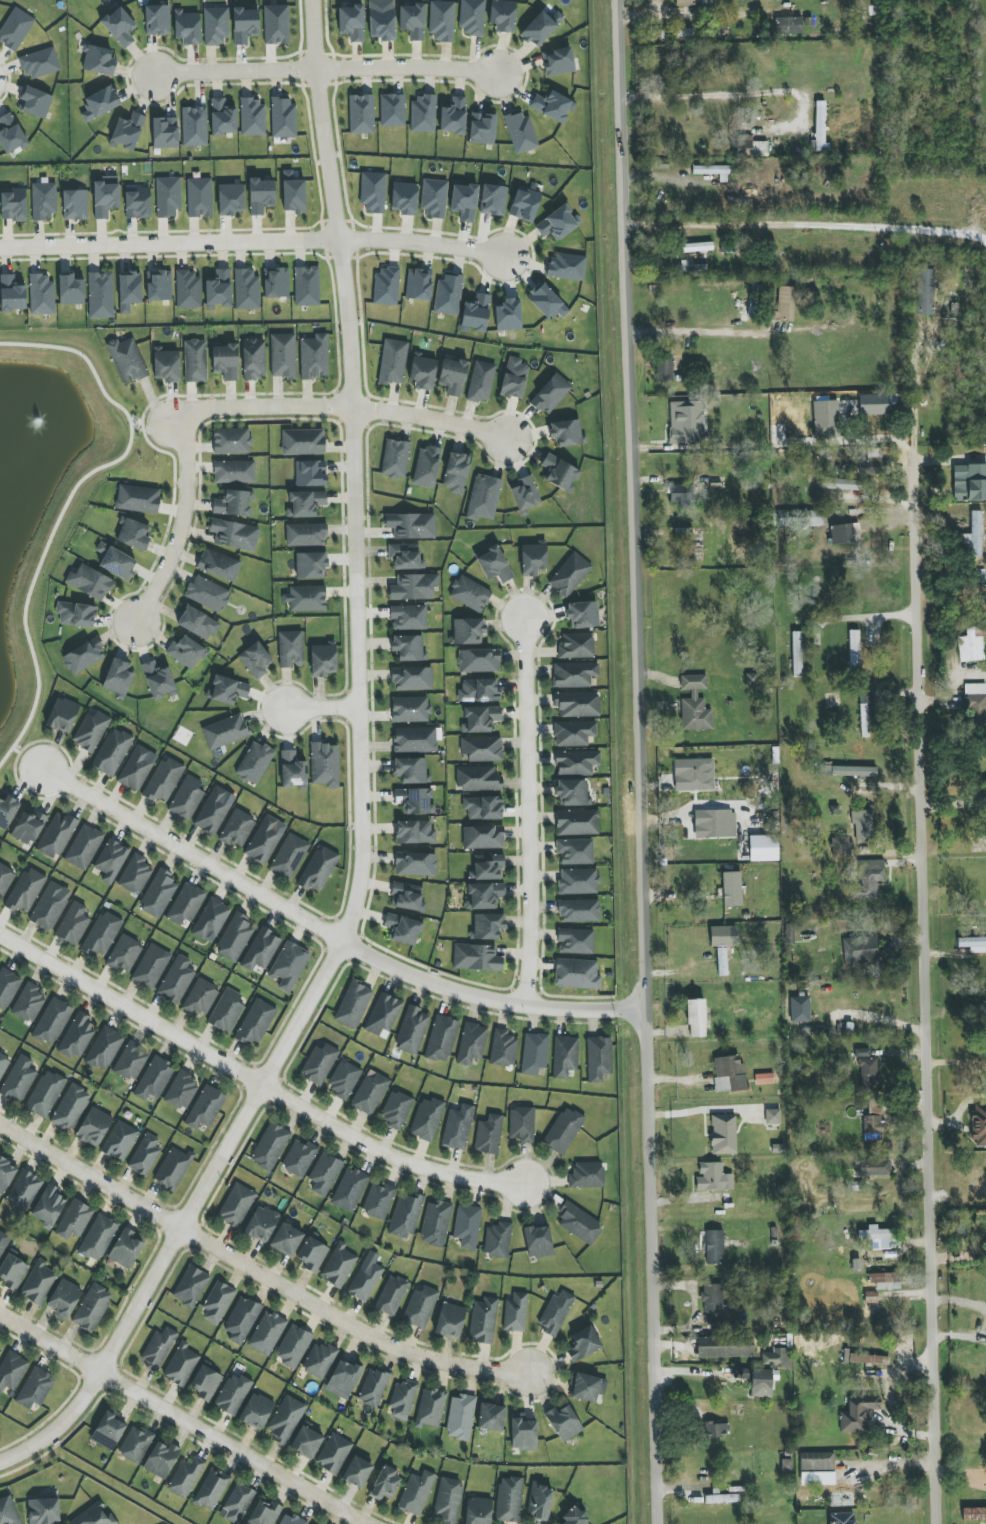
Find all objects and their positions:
building: (693, 2)
building: (502, 16)
road: (663, 16)
building: (472, 17)
building: (157, 20)
building: (412, 21)
building: (442, 21)
building: (351, 22)
building: (788, 23)
building: (276, 24)
building: (381, 24)
building: (244, 25)
building: (119, 26)
building: (215, 26)
building: (187, 27)
building: (15, 29)
building: (538, 29)
building: (683, 33)
building: (98, 61)
building: (558, 61)
building: (40, 63)
road: (330, 70)
road: (742, 94)
building: (35, 102)
building: (100, 103)
building: (552, 106)
building: (392, 110)
building: (361, 114)
building: (423, 114)
building: (252, 116)
building: (453, 116)
building: (283, 117)
building: (222, 118)
building: (194, 126)
building: (819, 128)
building: (482, 129)
building: (127, 132)
building: (165, 132)
building: (520, 132)
building: (10, 134)
building: (751, 147)
building: (714, 171)
building: (373, 192)
building: (293, 193)
building: (260, 195)
building: (105, 196)
building: (168, 196)
building: (199, 197)
building: (404, 198)
building: (434, 198)
building: (230, 199)
building: (43, 200)
building: (493, 200)
building: (137, 202)
building: (463, 202)
building: (525, 204)
building: (75, 205)
building: (13, 206)
building: (558, 223)
road: (808, 226)
road: (253, 242)
building: (697, 247)
building: (689, 266)
building: (565, 267)
building: (276, 283)
building: (418, 284)
building: (159, 285)
building: (306, 286)
building: (385, 287)
building: (188, 289)
building: (246, 289)
building: (70, 290)
building: (218, 290)
building: (129, 291)
building: (925, 291)
building: (11, 294)
building: (41, 294)
building: (448, 294)
building: (100, 295)
building: (546, 302)
building: (784, 304)
building: (475, 314)
building: (508, 315)
road: (694, 332)
building: (283, 356)
building: (314, 357)
building: (253, 359)
building: (127, 360)
building: (195, 361)
building: (225, 361)
building: (393, 362)
building: (166, 365)
building: (664, 369)
building: (422, 373)
building: (452, 376)
building: (514, 378)
building: (481, 382)
road: (913, 388)
building: (550, 394)
building: (877, 404)
road: (348, 409)
building: (825, 419)
building: (686, 422)
building: (566, 432)
building: (231, 441)
building: (302, 442)
building: (395, 458)
building: (873, 466)
building: (426, 467)
building: (234, 471)
building: (456, 472)
building: (310, 473)
building: (559, 473)
building: (969, 483)
building: (847, 484)
building: (679, 494)
building: (524, 495)
building: (483, 497)
building: (137, 499)
road: (66, 502)
building: (233, 503)
building: (305, 504)
building: (411, 525)
road: (180, 528)
building: (133, 534)
building: (234, 534)
building: (845, 534)
building: (974, 534)
building: (306, 535)
building: (405, 557)
building: (533, 559)
building: (116, 562)
building: (494, 564)
building: (218, 565)
building: (310, 565)
building: (569, 574)
building: (89, 582)
building: (414, 587)
building: (469, 593)
building: (207, 594)
building: (306, 598)
building: (76, 614)
building: (582, 614)
building: (408, 617)
road: (864, 617)
building: (197, 623)
building: (468, 631)
building: (576, 646)
building: (408, 647)
building: (970, 647)
building: (290, 649)
building: (854, 651)
building: (186, 652)
building: (796, 654)
building: (84, 656)
building: (255, 660)
building: (323, 660)
building: (478, 660)
building: (574, 674)
building: (118, 677)
building: (412, 679)
building: (158, 680)
building: (227, 690)
building: (479, 690)
building: (866, 692)
building: (976, 703)
building: (577, 704)
building: (695, 704)
road: (324, 709)
building: (410, 709)
building: (62, 715)
building: (480, 719)
building: (864, 720)
building: (91, 730)
building: (225, 731)
building: (573, 733)
building: (415, 740)
building: (481, 748)
building: (112, 752)
road: (27, 758)
building: (576, 762)
road: (642, 762)
building: (255, 763)
building: (325, 765)
building: (136, 769)
building: (292, 770)
building: (411, 770)
building: (849, 771)
building: (694, 775)
building: (478, 779)
building: (163, 780)
road: (363, 787)
building: (985, 788)
building: (573, 792)
building: (186, 798)
building: (414, 801)
building: (483, 808)
road: (528, 809)
building: (214, 810)
building: (7, 811)
building: (577, 822)
building: (714, 824)
building: (862, 826)
building: (29, 827)
building: (237, 828)
building: (414, 832)
building: (56, 835)
building: (483, 837)
building: (265, 839)
building: (84, 847)
building: (840, 847)
building: (763, 848)
building: (575, 851)
building: (289, 856)
building: (111, 860)
building: (415, 864)
building: (487, 867)
building: (318, 869)
building: (135, 874)
building: (870, 877)
building: (5, 879)
building: (578, 881)
building: (731, 889)
building: (25, 891)
building: (158, 894)
building: (484, 896)
building: (407, 897)
building: (186, 904)
building: (50, 906)
building: (578, 910)
building: (211, 920)
building: (73, 924)
building: (487, 926)
building: (402, 929)
building: (101, 934)
road: (326, 935)
building: (235, 937)
building: (575, 941)
building: (973, 944)
building: (261, 950)
building: (859, 950)
building: (124, 954)
building: (476, 958)
building: (289, 966)
building: (150, 967)
building: (576, 974)
building: (176, 980)
building: (7, 987)
road: (922, 989)
building: (201, 997)
building: (28, 1003)
building: (353, 1004)
building: (799, 1009)
building: (226, 1010)
building: (383, 1014)
building: (696, 1018)
road: (878, 1020)
building: (52, 1021)
building: (255, 1022)
building: (412, 1030)
building: (77, 1036)
building: (441, 1038)
building: (471, 1043)
building: (104, 1048)
building: (503, 1048)
building: (534, 1053)
building: (564, 1056)
building: (598, 1058)
building: (131, 1062)
building: (3, 1063)
building: (319, 1063)
building: (866, 1069)
building: (729, 1074)
building: (154, 1079)
building: (764, 1079)
building: (18, 1080)
building: (344, 1080)
road: (255, 1085)
building: (181, 1090)
building: (45, 1093)
building: (370, 1093)
building: (205, 1107)
building: (70, 1108)
building: (396, 1109)
building: (772, 1116)
building: (427, 1119)
building: (979, 1123)
building: (521, 1124)
building: (94, 1127)
building: (458, 1127)
building: (873, 1128)
building: (563, 1130)
building: (723, 1134)
building: (488, 1135)
building: (119, 1141)
building: (270, 1146)
building: (145, 1155)
building: (299, 1158)
building: (873, 1167)
building: (173, 1169)
building: (324, 1173)
building: (5, 1174)
building: (586, 1175)
building: (713, 1177)
building: (349, 1189)
building: (24, 1190)
building: (378, 1200)
building: (236, 1205)
building: (48, 1207)
building: (405, 1215)
building: (74, 1219)
building: (435, 1223)
building: (579, 1223)
building: (261, 1224)
building: (467, 1226)
building: (880, 1237)
building: (98, 1238)
building: (286, 1240)
building: (497, 1240)
building: (537, 1241)
building: (3, 1242)
building: (714, 1247)
building: (125, 1249)
building: (312, 1254)
building: (338, 1265)
road: (256, 1270)
building: (12, 1272)
building: (366, 1277)
building: (885, 1281)
building: (38, 1283)
building: (190, 1286)
building: (391, 1295)
building: (64, 1299)
building: (217, 1302)
building: (712, 1304)
building: (420, 1307)
building: (92, 1308)
building: (555, 1312)
building: (515, 1313)
building: (241, 1320)
building: (450, 1320)
building: (483, 1320)
building: (267, 1333)
building: (583, 1344)
building: (293, 1346)
building: (158, 1348)
building: (724, 1348)
building: (0, 1350)
building: (778, 1358)
building: (869, 1359)
building: (319, 1360)
building: (181, 1365)
building: (11, 1371)
building: (343, 1379)
building: (758, 1380)
building: (205, 1383)
building: (586, 1387)
building: (35, 1388)
building: (373, 1388)
building: (232, 1394)
building: (402, 1399)
building: (430, 1408)
building: (256, 1411)
building: (858, 1414)
building: (460, 1417)
building: (490, 1417)
road: (183, 1419)
building: (285, 1419)
building: (563, 1423)
building: (715, 1429)
building: (108, 1431)
building: (523, 1433)
building: (306, 1443)
building: (135, 1444)
building: (333, 1453)
building: (161, 1459)
building: (817, 1461)
building: (786, 1465)
road: (882, 1466)
building: (356, 1472)
building: (185, 1477)
building: (817, 1478)
building: (385, 1484)
building: (211, 1490)
building: (416, 1493)
building: (509, 1499)
building: (724, 1499)
building: (447, 1501)
building: (539, 1502)
building: (237, 1503)
building: (8, 1511)
building: (43, 1511)
building: (478, 1511)
building: (264, 1513)
building: (974, 1514)
building: (93, 1516)
building: (575, 1517)
building: (842, 1518)
building: (290, 1519)

